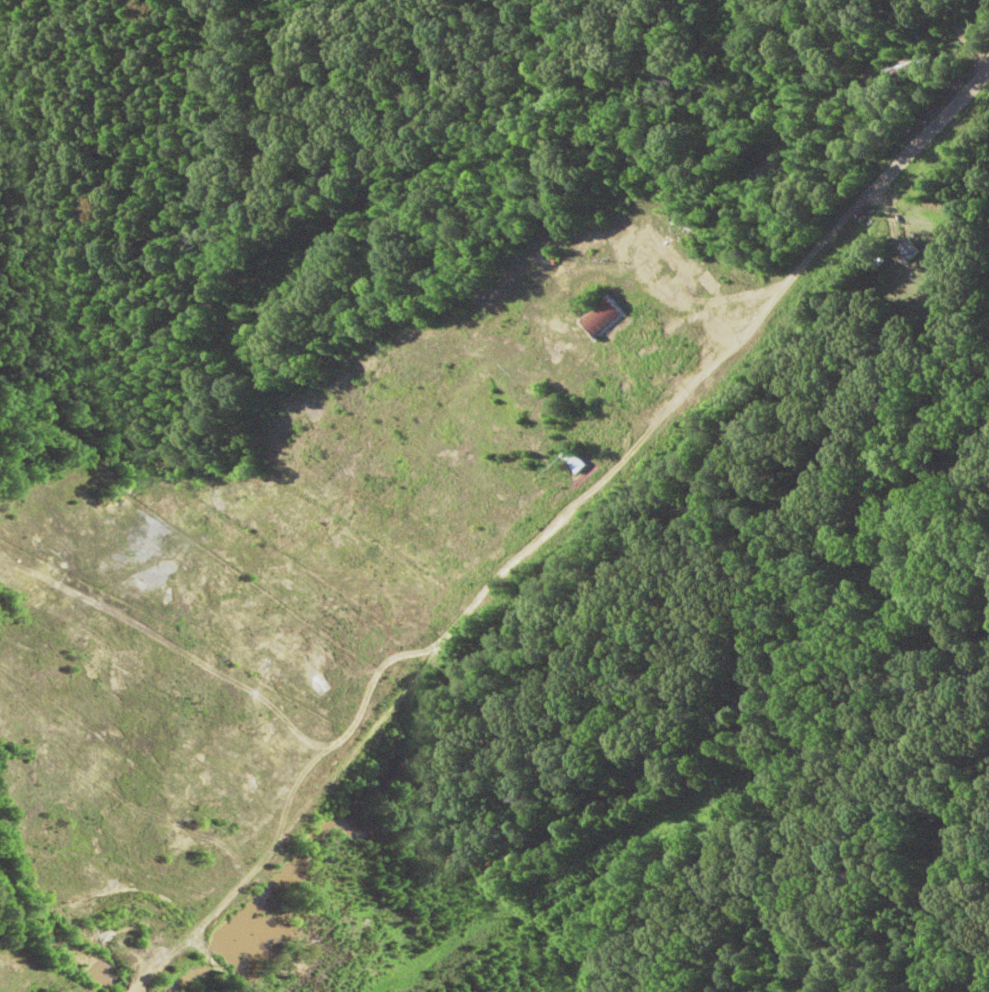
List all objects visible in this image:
building: (959, 4)
building: (906, 66)
building: (908, 250)
road: (382, 287)
building: (601, 318)
road: (588, 407)
building: (572, 461)

